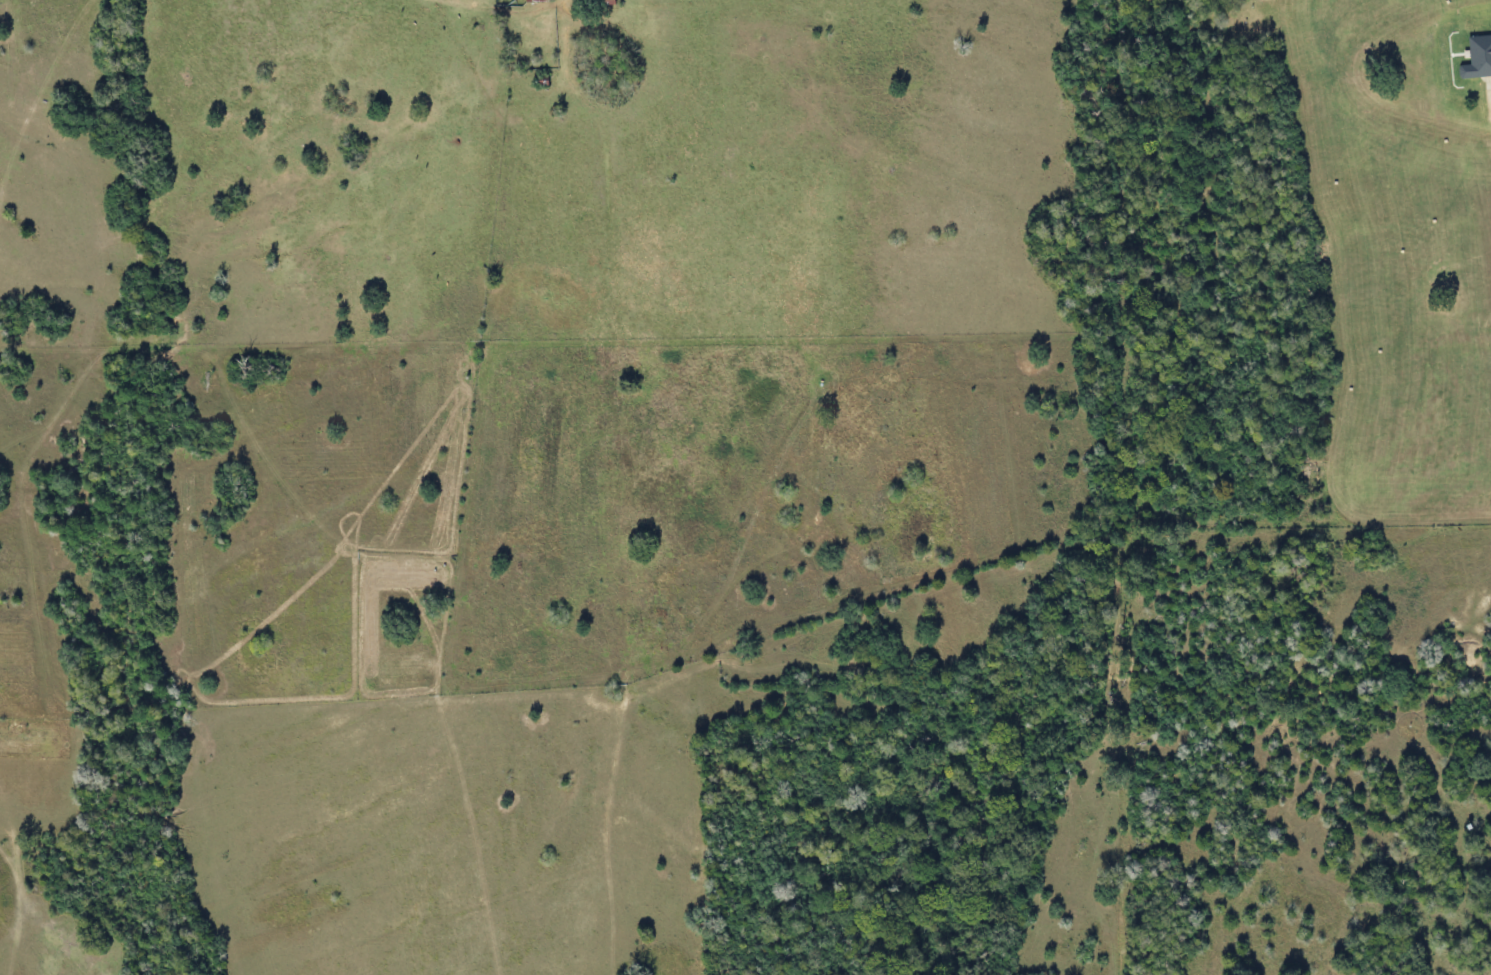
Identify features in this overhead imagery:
road: (514, 6)
building: (1475, 58)

